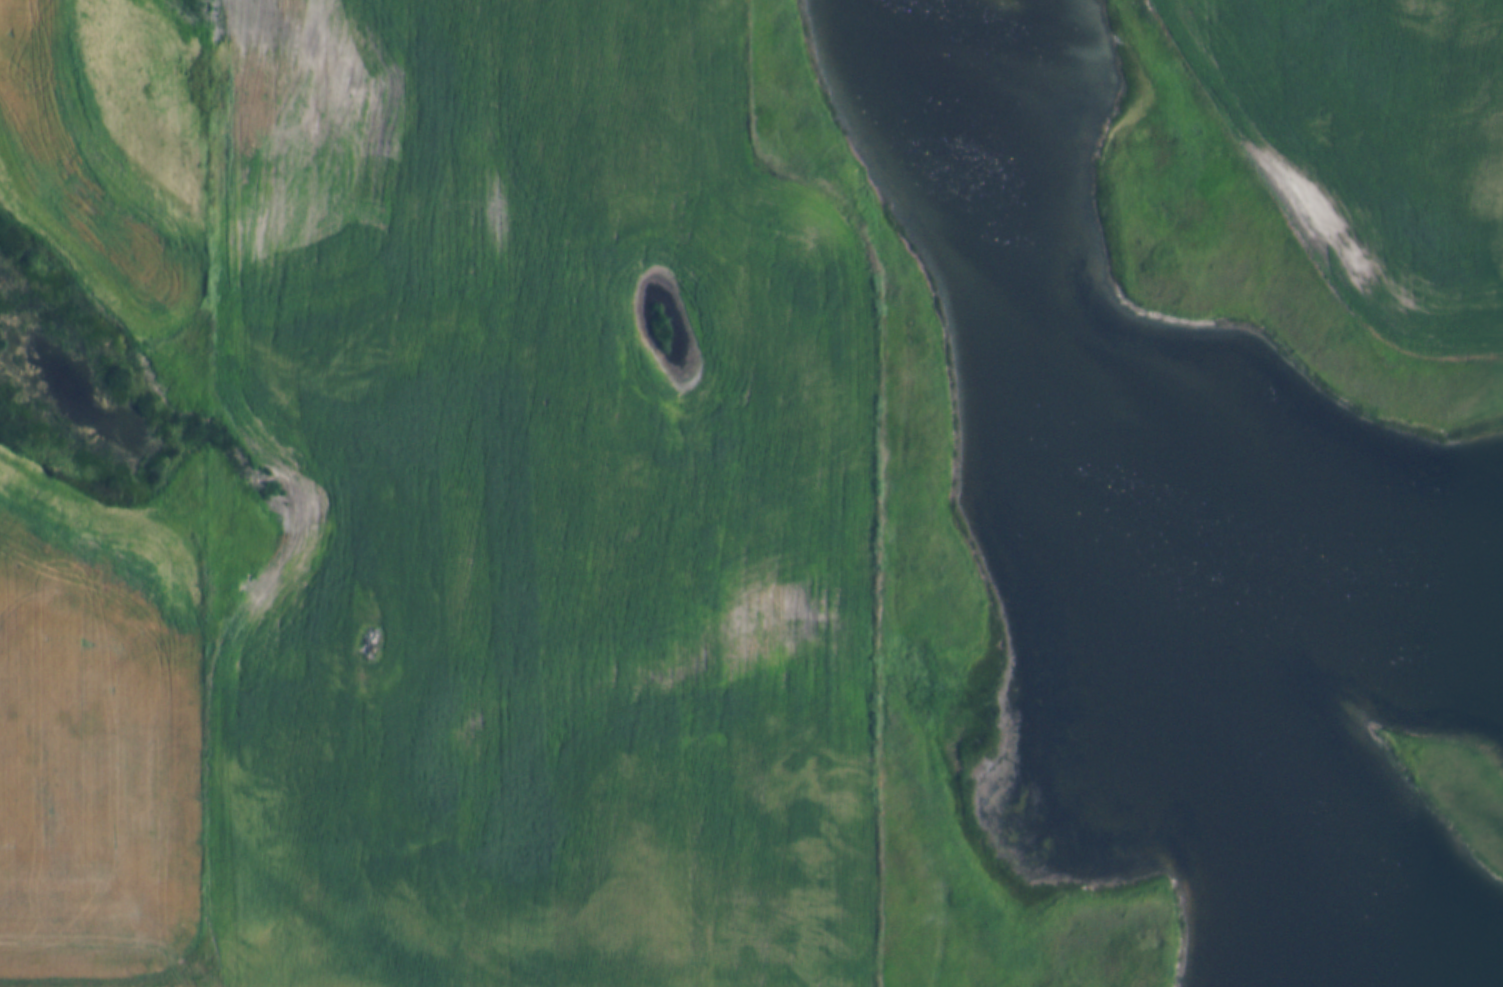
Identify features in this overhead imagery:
road: (109, 965)
road: (219, 978)

